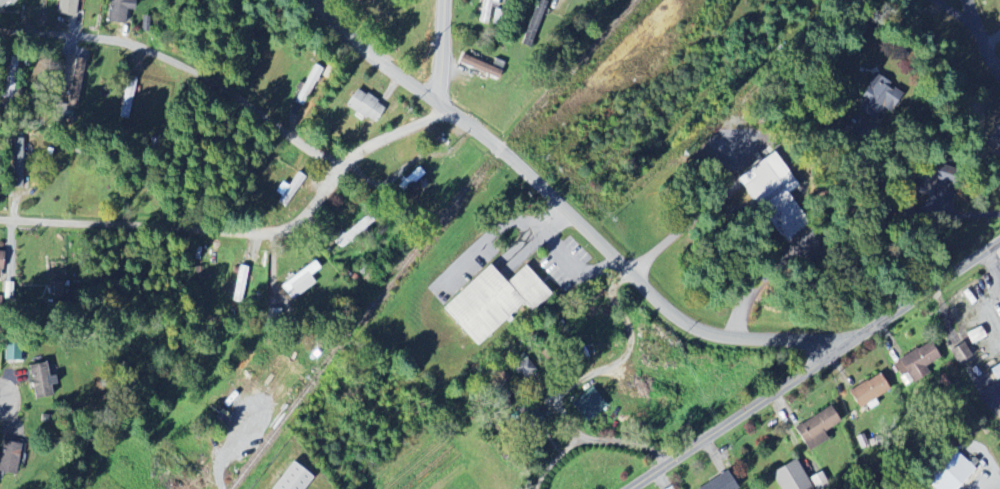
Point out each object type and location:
building: (4, 3)
building: (64, 8)
building: (117, 11)
building: (487, 12)
road: (954, 13)
building: (534, 18)
road: (982, 38)
road: (445, 52)
building: (479, 64)
road: (184, 66)
building: (7, 78)
building: (73, 83)
building: (307, 86)
building: (127, 98)
building: (870, 98)
building: (361, 105)
building: (58, 116)
road: (420, 126)
building: (18, 163)
building: (288, 191)
building: (769, 196)
road: (566, 206)
road: (931, 216)
road: (680, 229)
road: (244, 231)
building: (353, 231)
railway: (425, 238)
building: (0, 257)
road: (566, 257)
road: (993, 266)
building: (298, 281)
road: (758, 283)
building: (491, 302)
building: (958, 353)
building: (9, 355)
building: (913, 363)
road: (813, 364)
building: (37, 381)
building: (866, 391)
building: (587, 404)
building: (526, 418)
building: (813, 429)
building: (7, 462)
building: (946, 471)
building: (789, 477)
building: (290, 478)
building: (717, 483)

